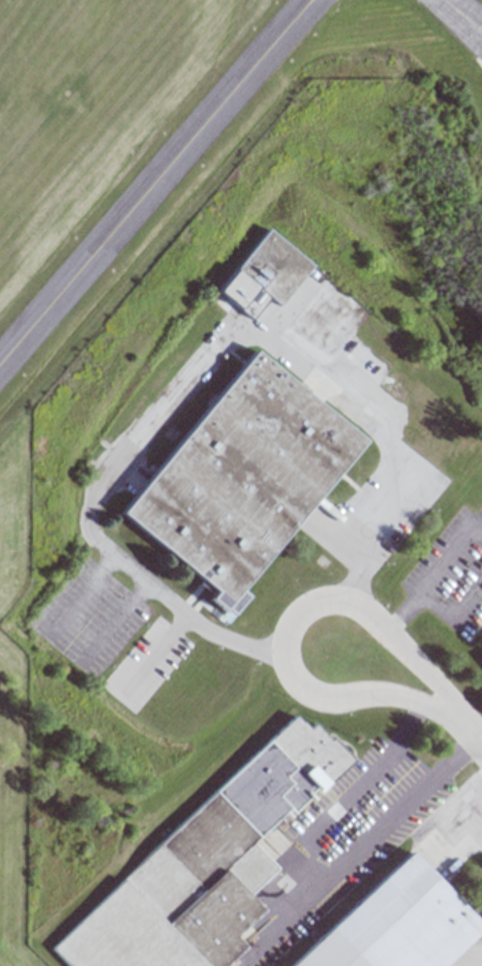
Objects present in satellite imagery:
airport taxiway: (463, 15)
airport: (150, 152)
airport taxiway: (154, 181)
building: (265, 278)
road: (194, 368)
building: (241, 481)
road: (446, 554)
road: (398, 612)
road: (449, 615)
parking lot: (84, 617)
road: (284, 626)
road: (63, 649)
road: (148, 655)
building: (481, 662)
parking lot: (140, 665)
road: (470, 733)
airport: (13, 814)
building: (206, 866)
road: (302, 878)
building: (399, 924)
road: (477, 960)

